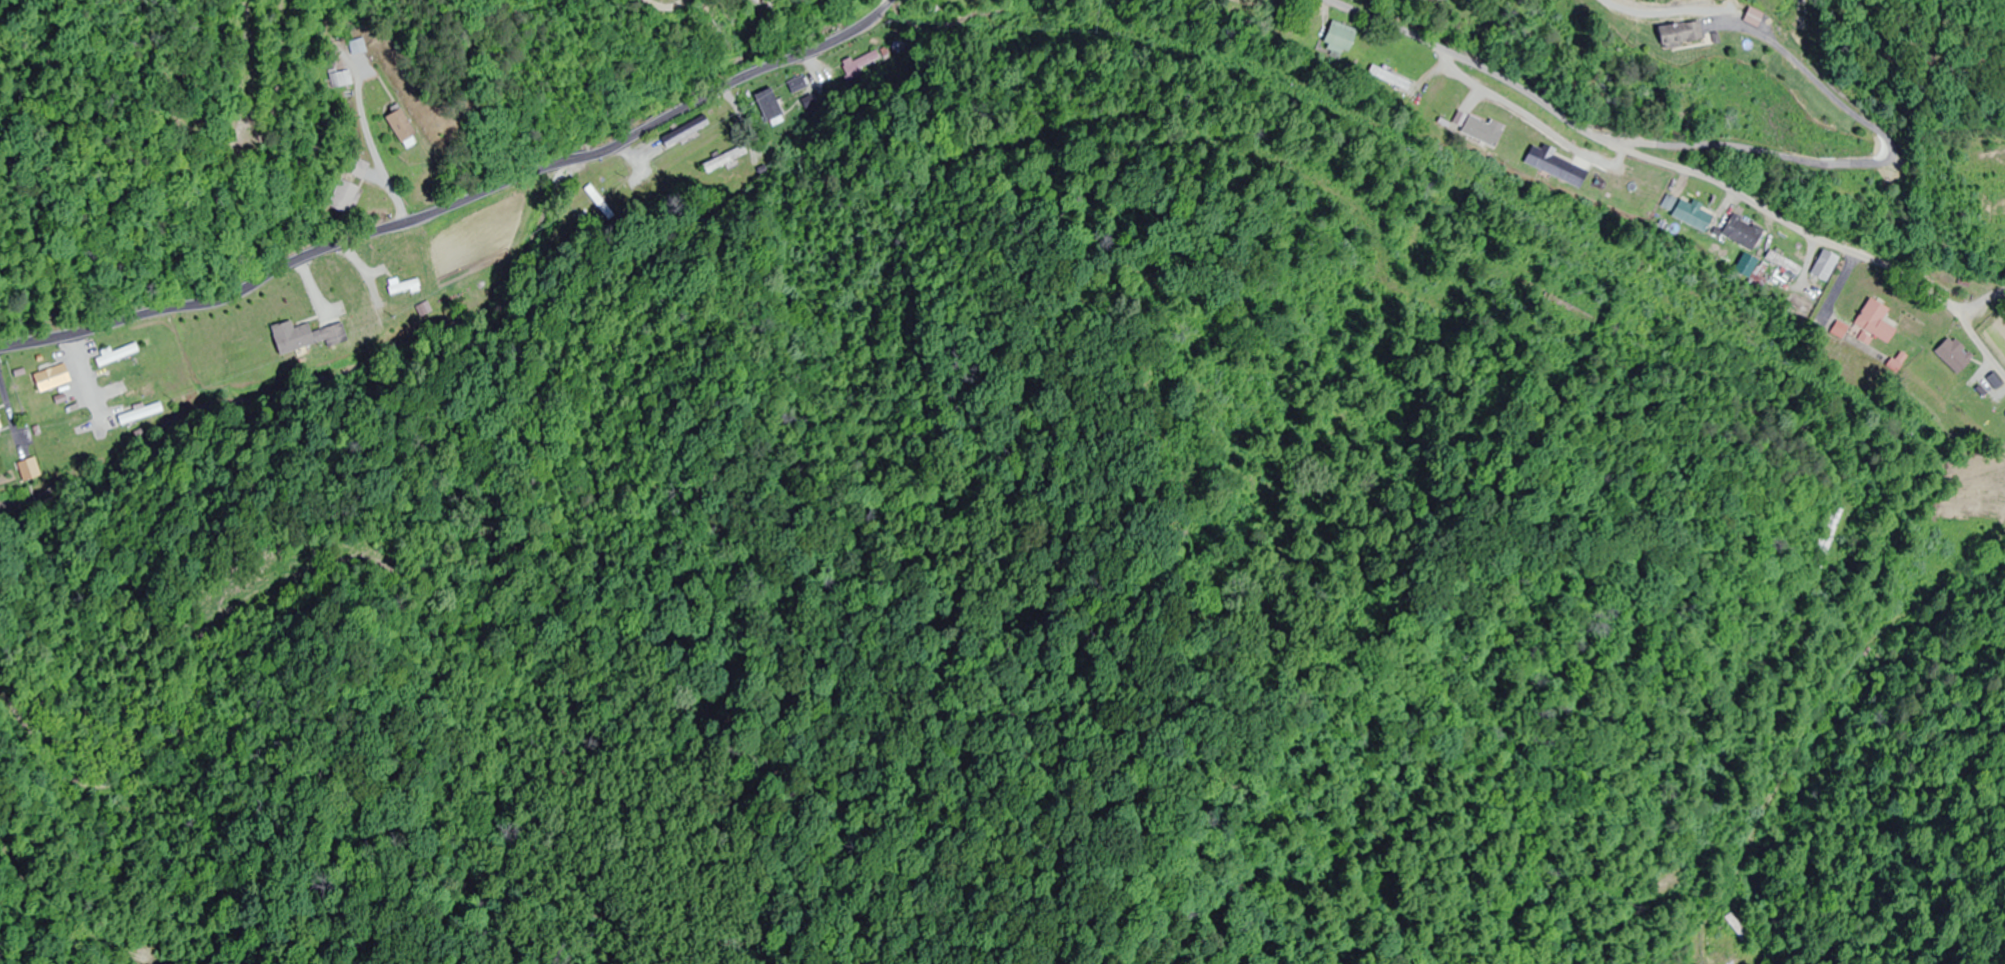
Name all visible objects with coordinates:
building: (1750, 17)
building: (1669, 33)
building: (1340, 38)
building: (360, 46)
building: (858, 66)
building: (342, 79)
building: (1392, 79)
building: (797, 85)
building: (786, 108)
building: (397, 128)
building: (683, 131)
building: (1548, 163)
building: (357, 168)
road: (1685, 172)
building: (338, 198)
road: (455, 201)
building: (615, 203)
building: (1687, 213)
building: (1743, 233)
building: (1784, 263)
building: (1824, 265)
building: (401, 288)
road: (1984, 296)
building: (1876, 321)
building: (304, 337)
building: (114, 356)
building: (1952, 356)
building: (121, 376)
building: (49, 379)
building: (1990, 386)
building: (131, 394)
building: (63, 422)
building: (30, 469)
building: (1827, 521)
building: (1735, 929)

